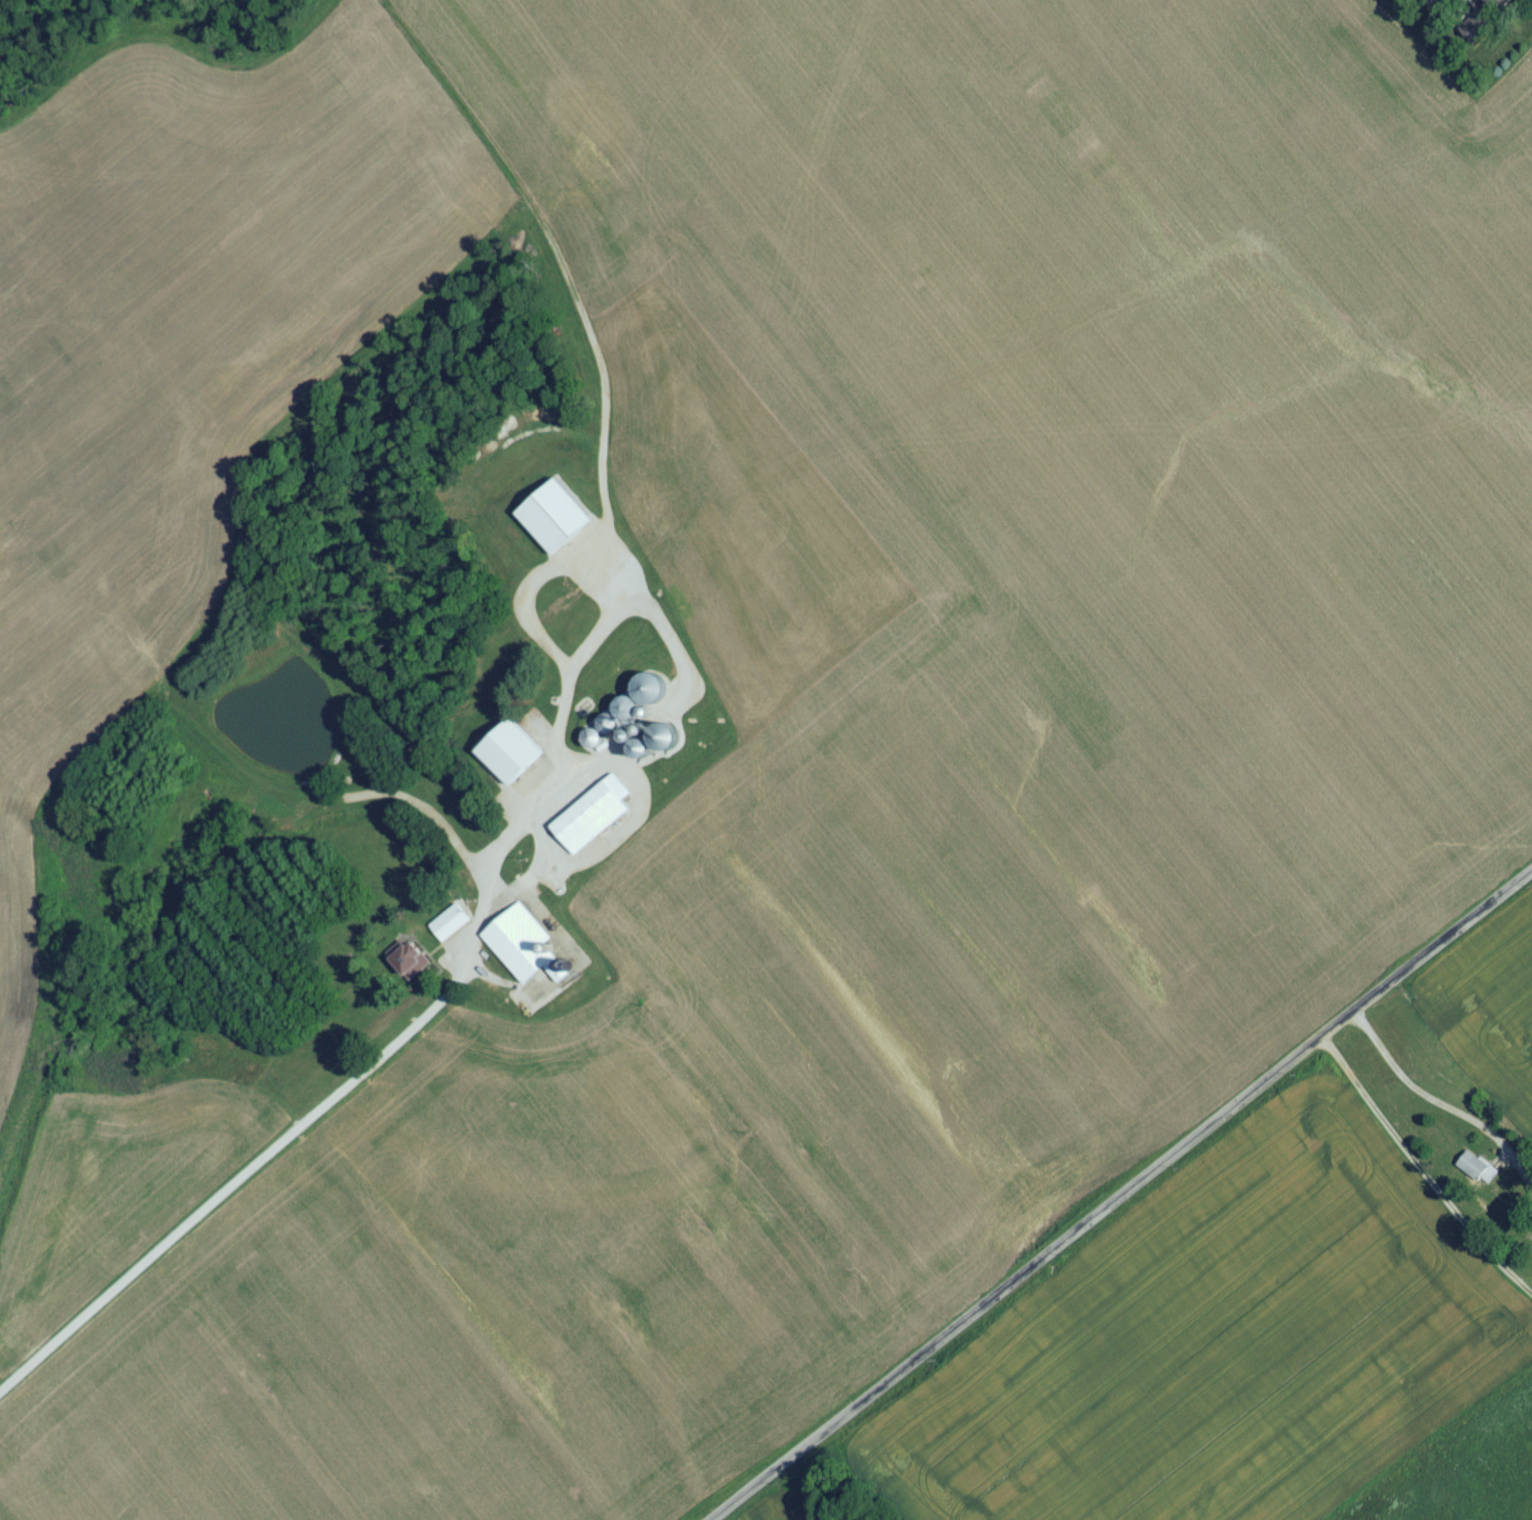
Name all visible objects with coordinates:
building: (1495, 7)
building: (646, 492)
building: (631, 530)
building: (588, 562)
road: (566, 564)
building: (551, 597)
building: (649, 693)
building: (619, 719)
building: (510, 757)
building: (592, 820)
building: (449, 928)
building: (523, 952)
building: (409, 966)
road: (354, 1079)
road: (1439, 1103)
road: (1421, 1169)
building: (1474, 1172)
road: (1124, 1197)

